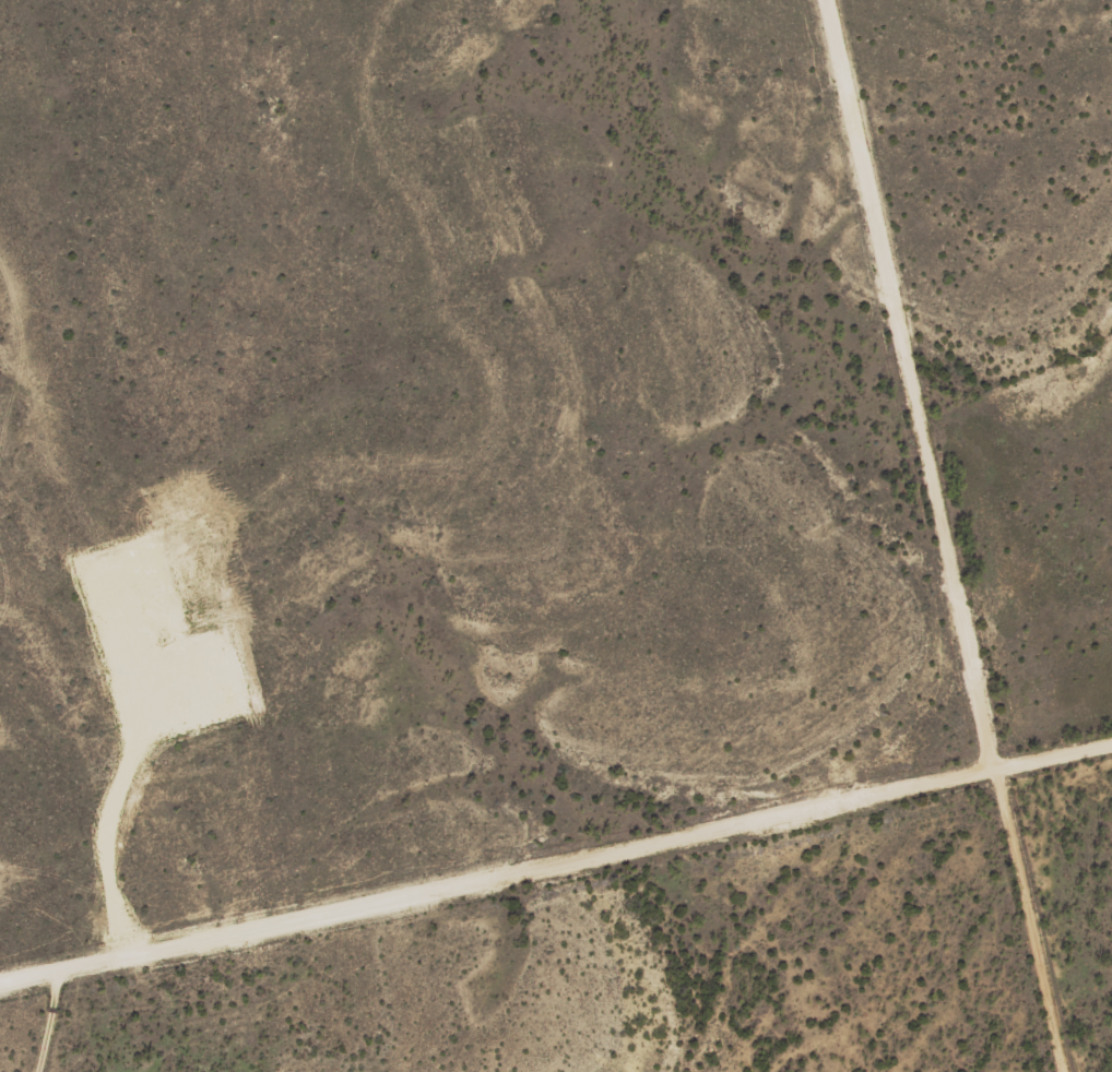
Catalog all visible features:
road: (909, 384)
road: (556, 862)
road: (1028, 920)
road: (44, 1021)

